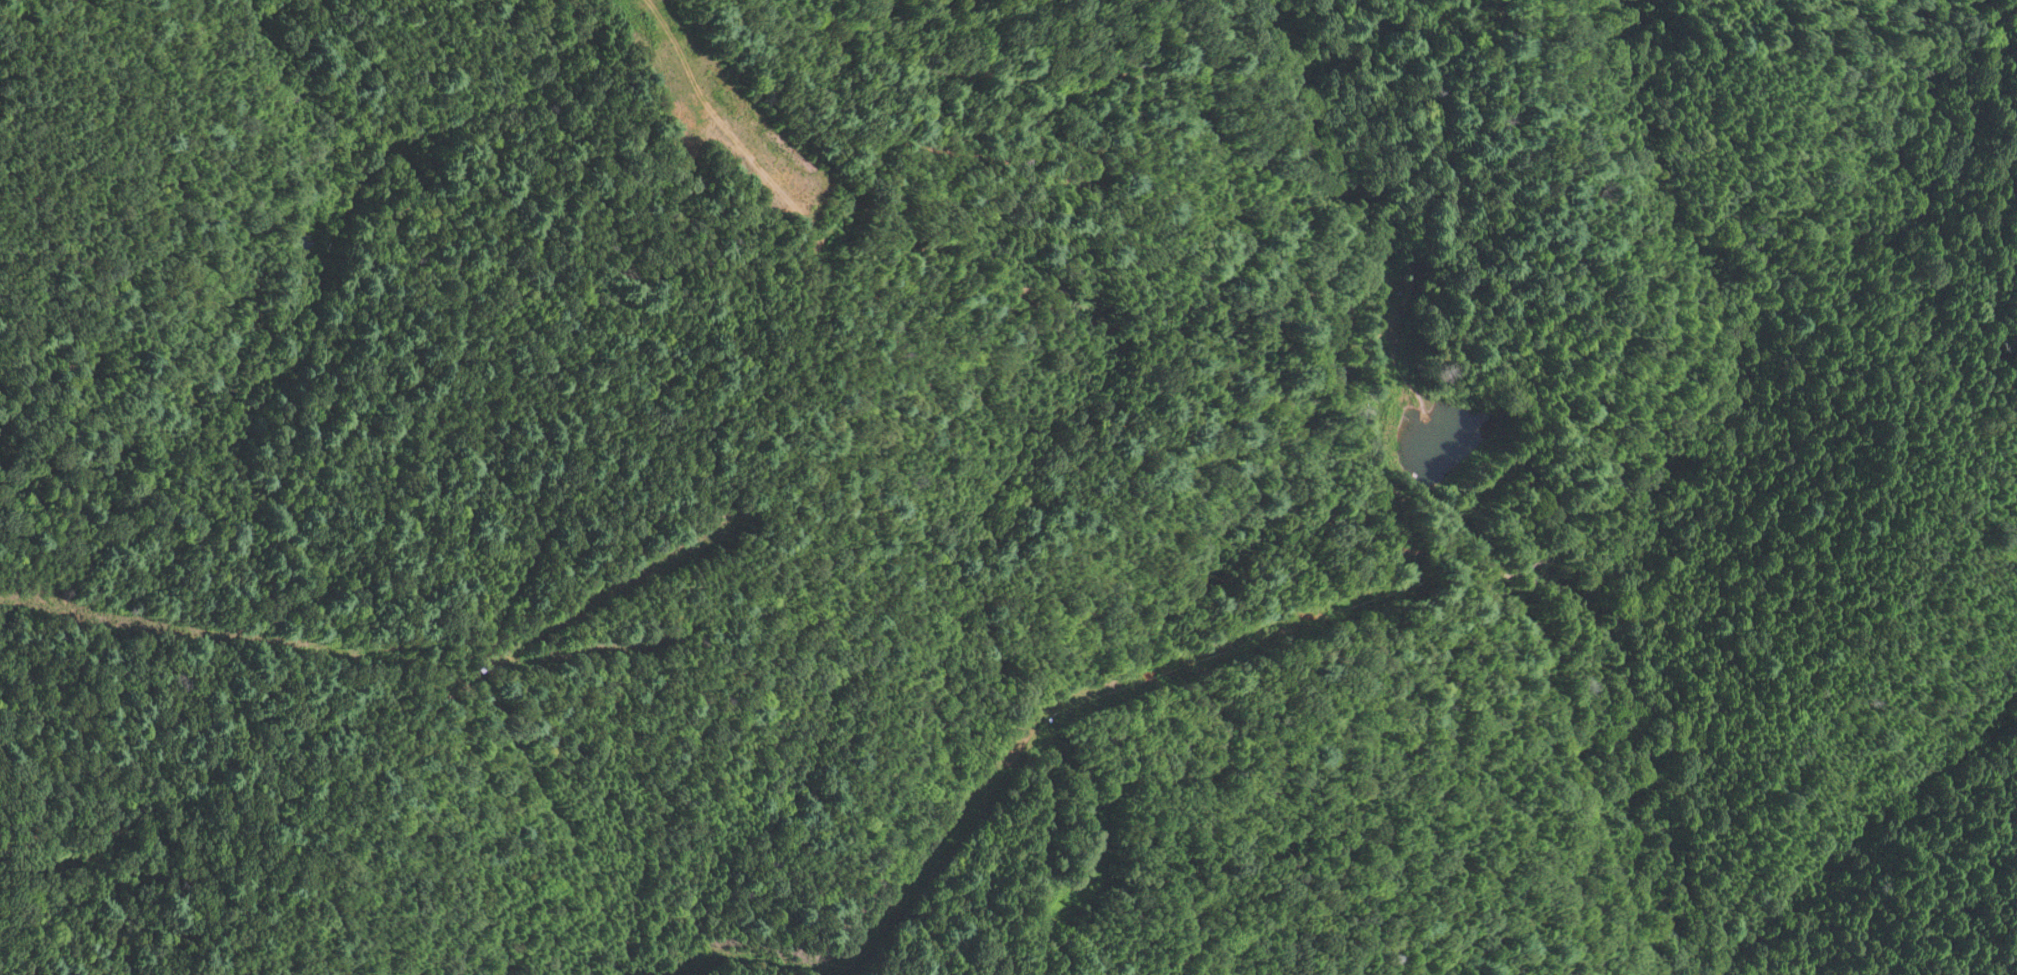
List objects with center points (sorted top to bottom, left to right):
building: (1320, 359)
park: (830, 467)

